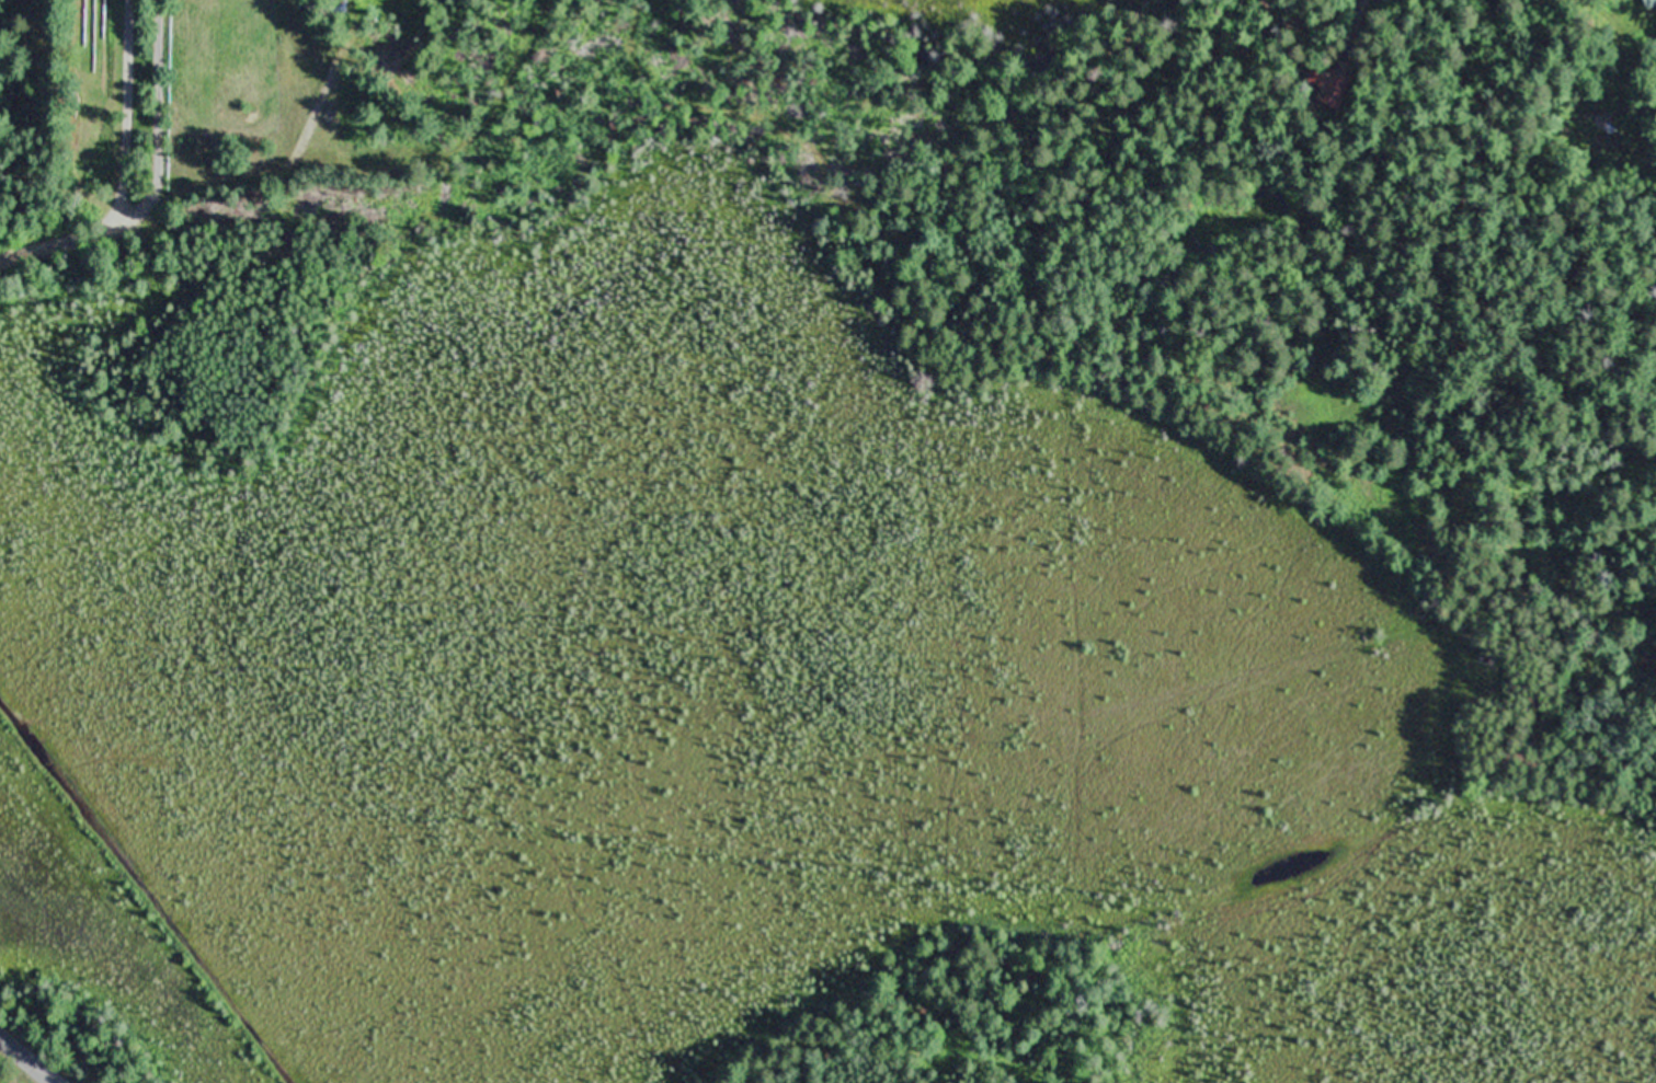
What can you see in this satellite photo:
building: (1651, 3)
road: (32, 1055)

